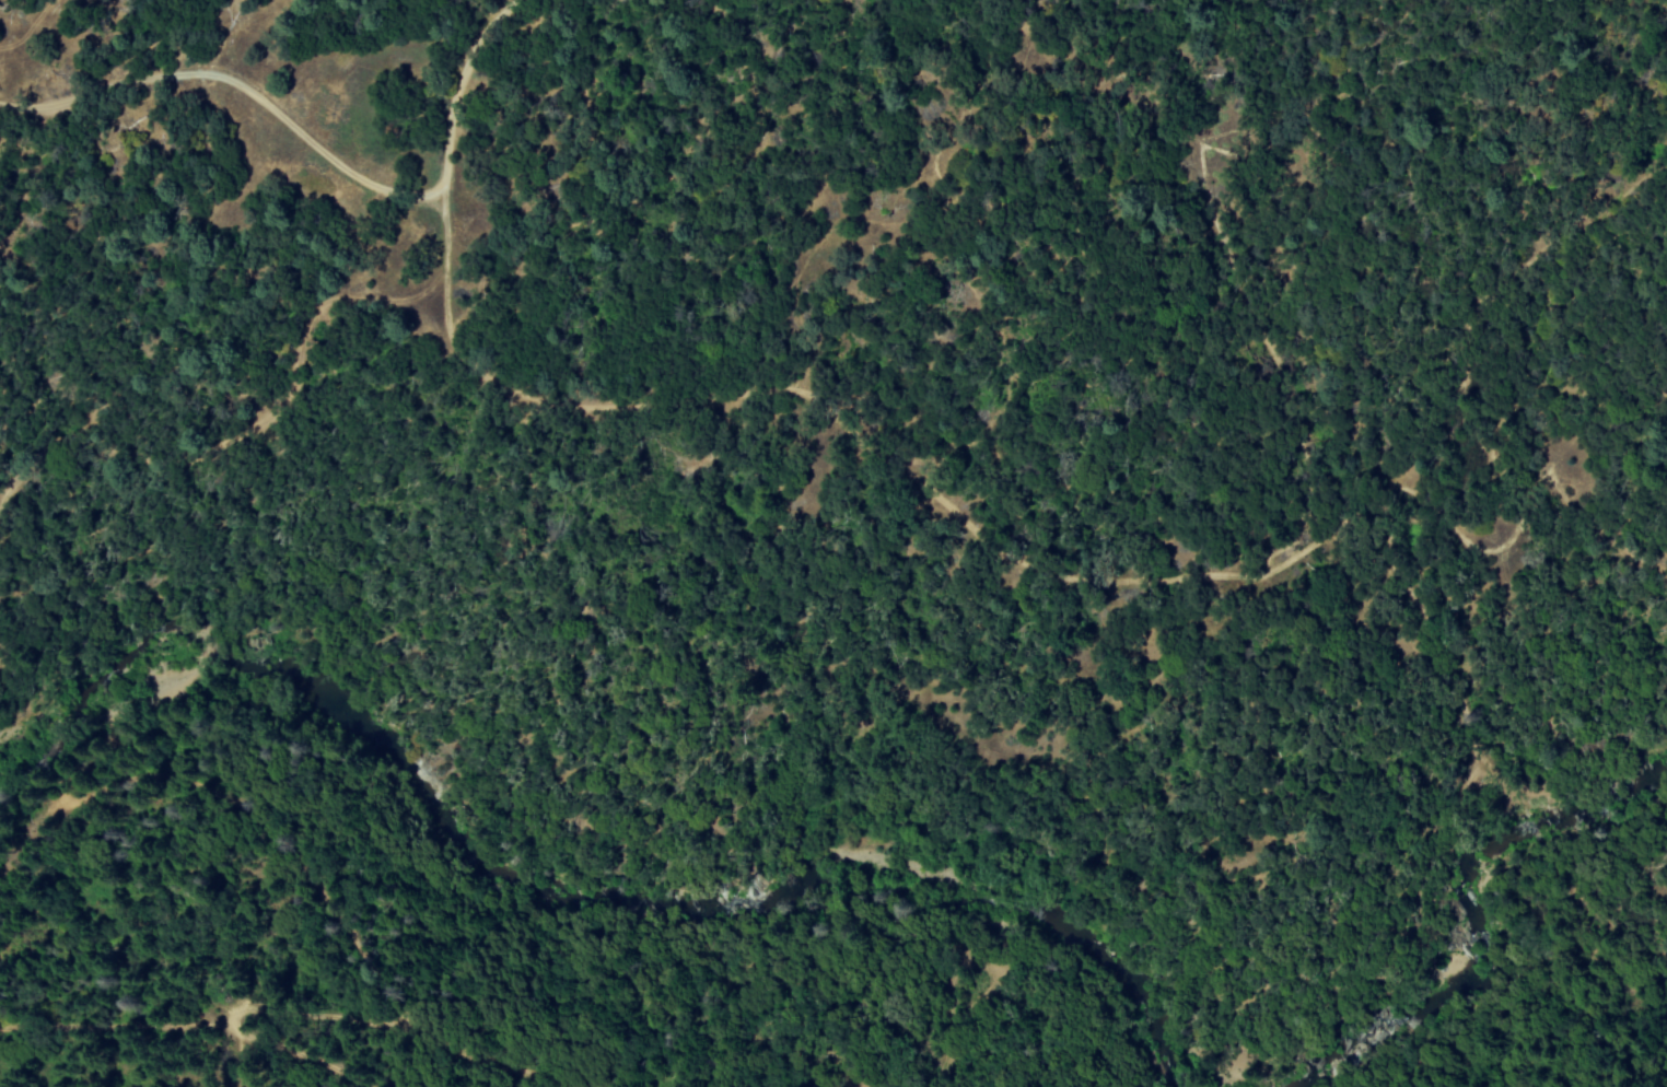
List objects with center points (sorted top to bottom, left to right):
road: (316, 148)
river: (878, 853)

